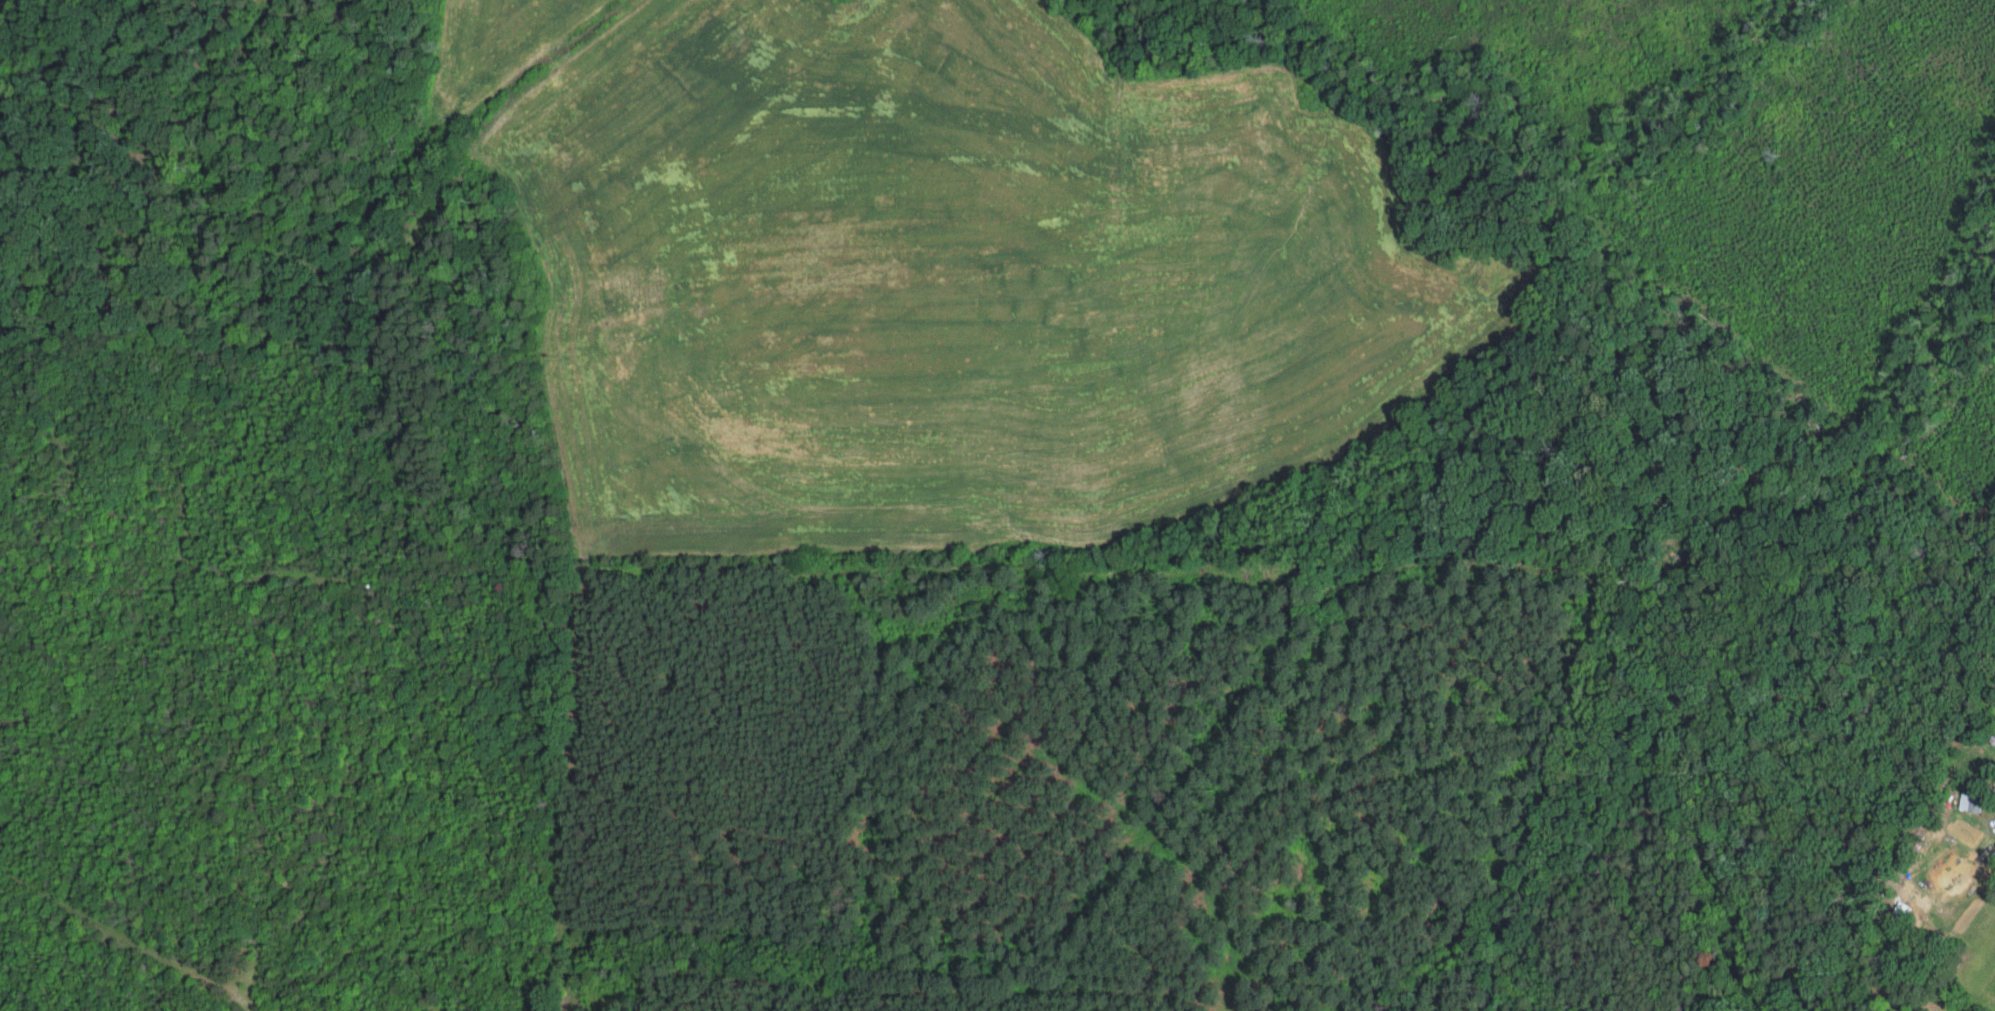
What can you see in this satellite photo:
building: (1969, 801)

